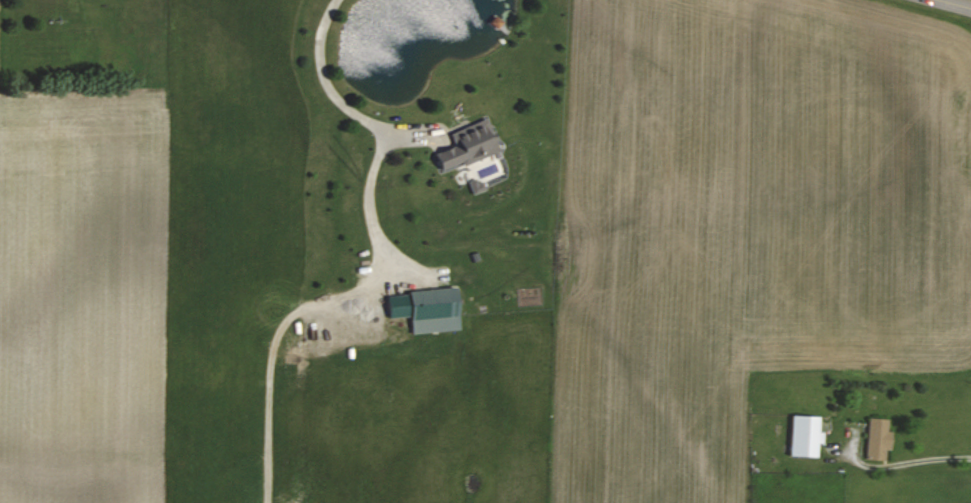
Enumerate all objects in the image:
road: (958, 3)
road: (372, 124)
building: (467, 147)
building: (475, 186)
building: (425, 310)
building: (804, 437)
building: (877, 439)
road: (905, 462)

